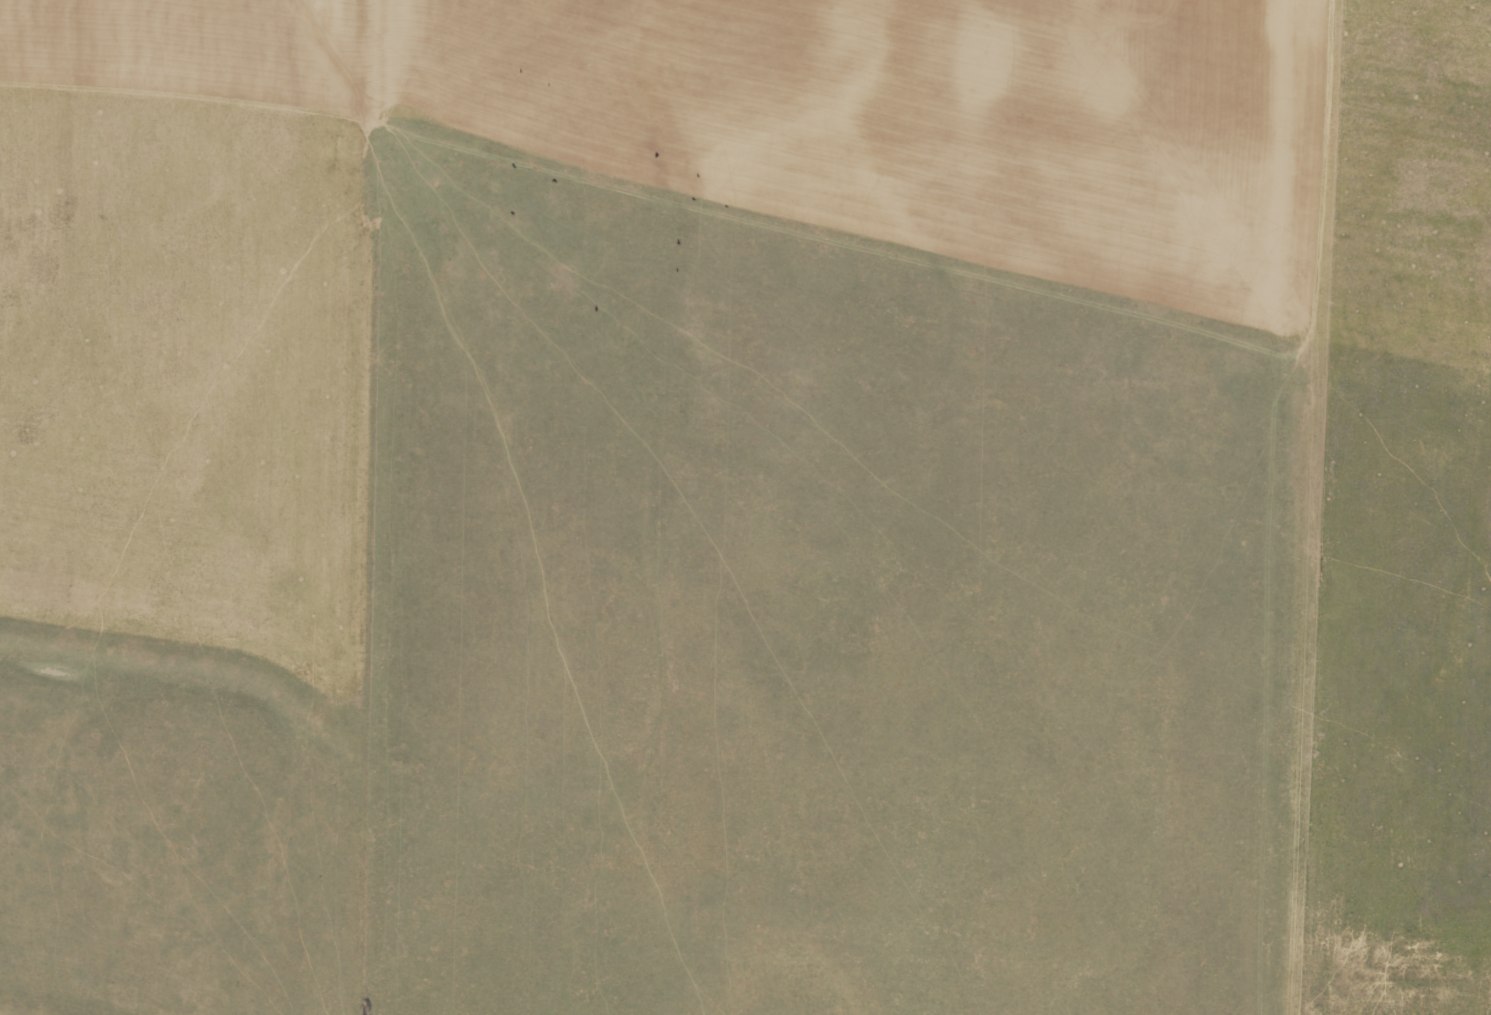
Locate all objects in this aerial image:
road: (1283, 507)

